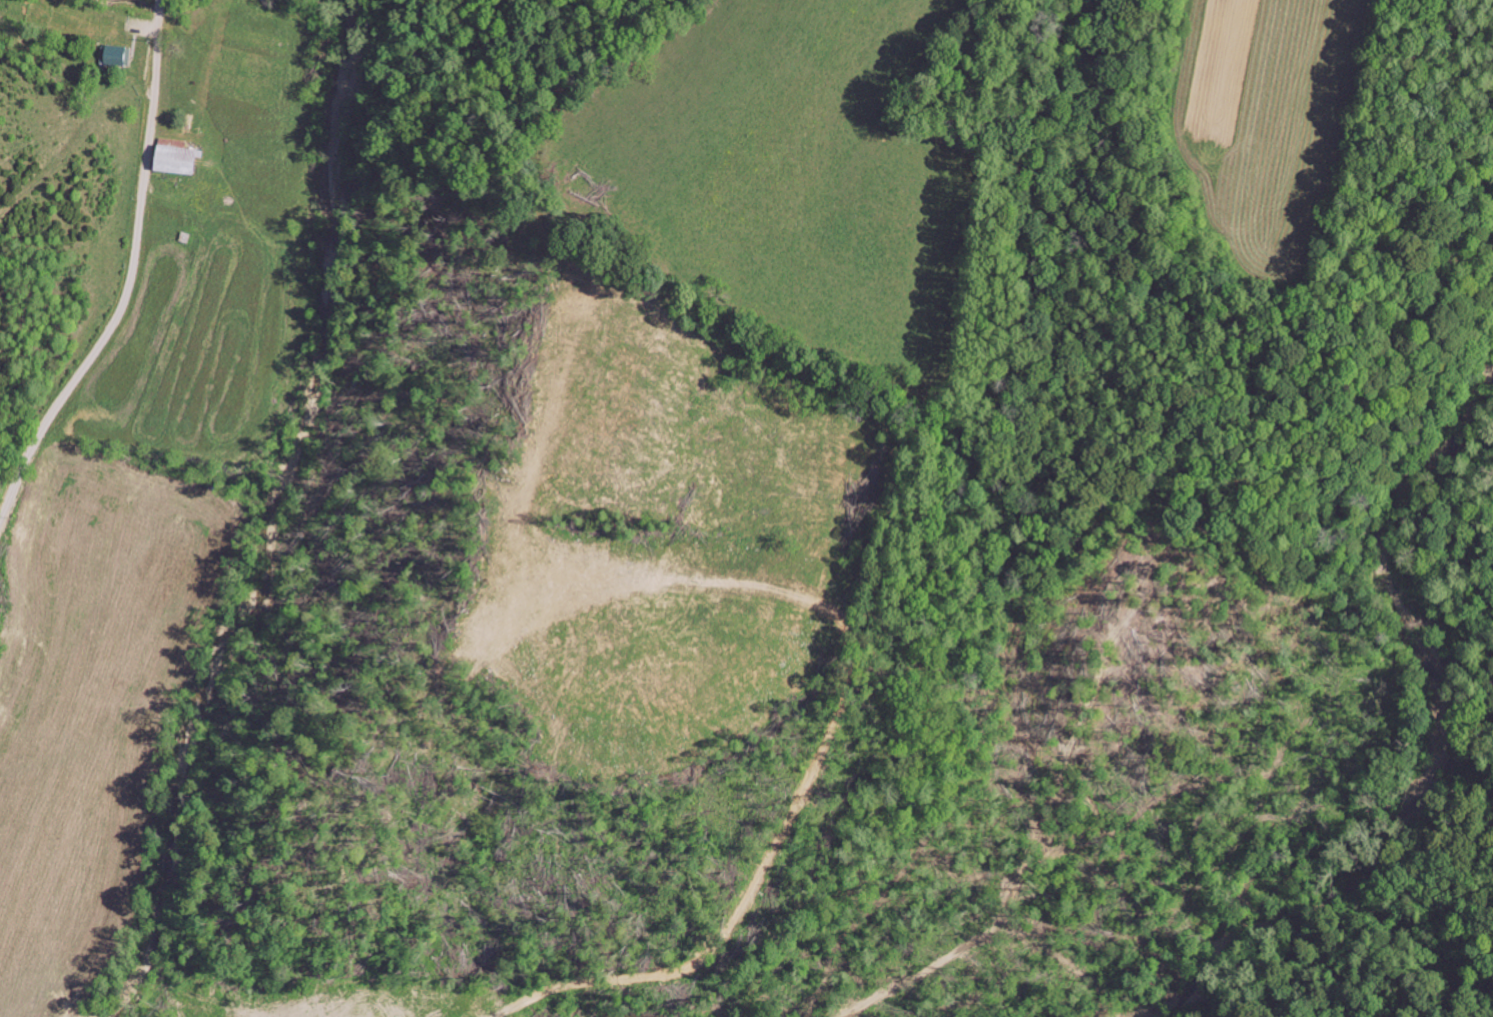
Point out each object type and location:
building: (114, 53)
building: (179, 158)
road: (130, 272)
road: (327, 797)

